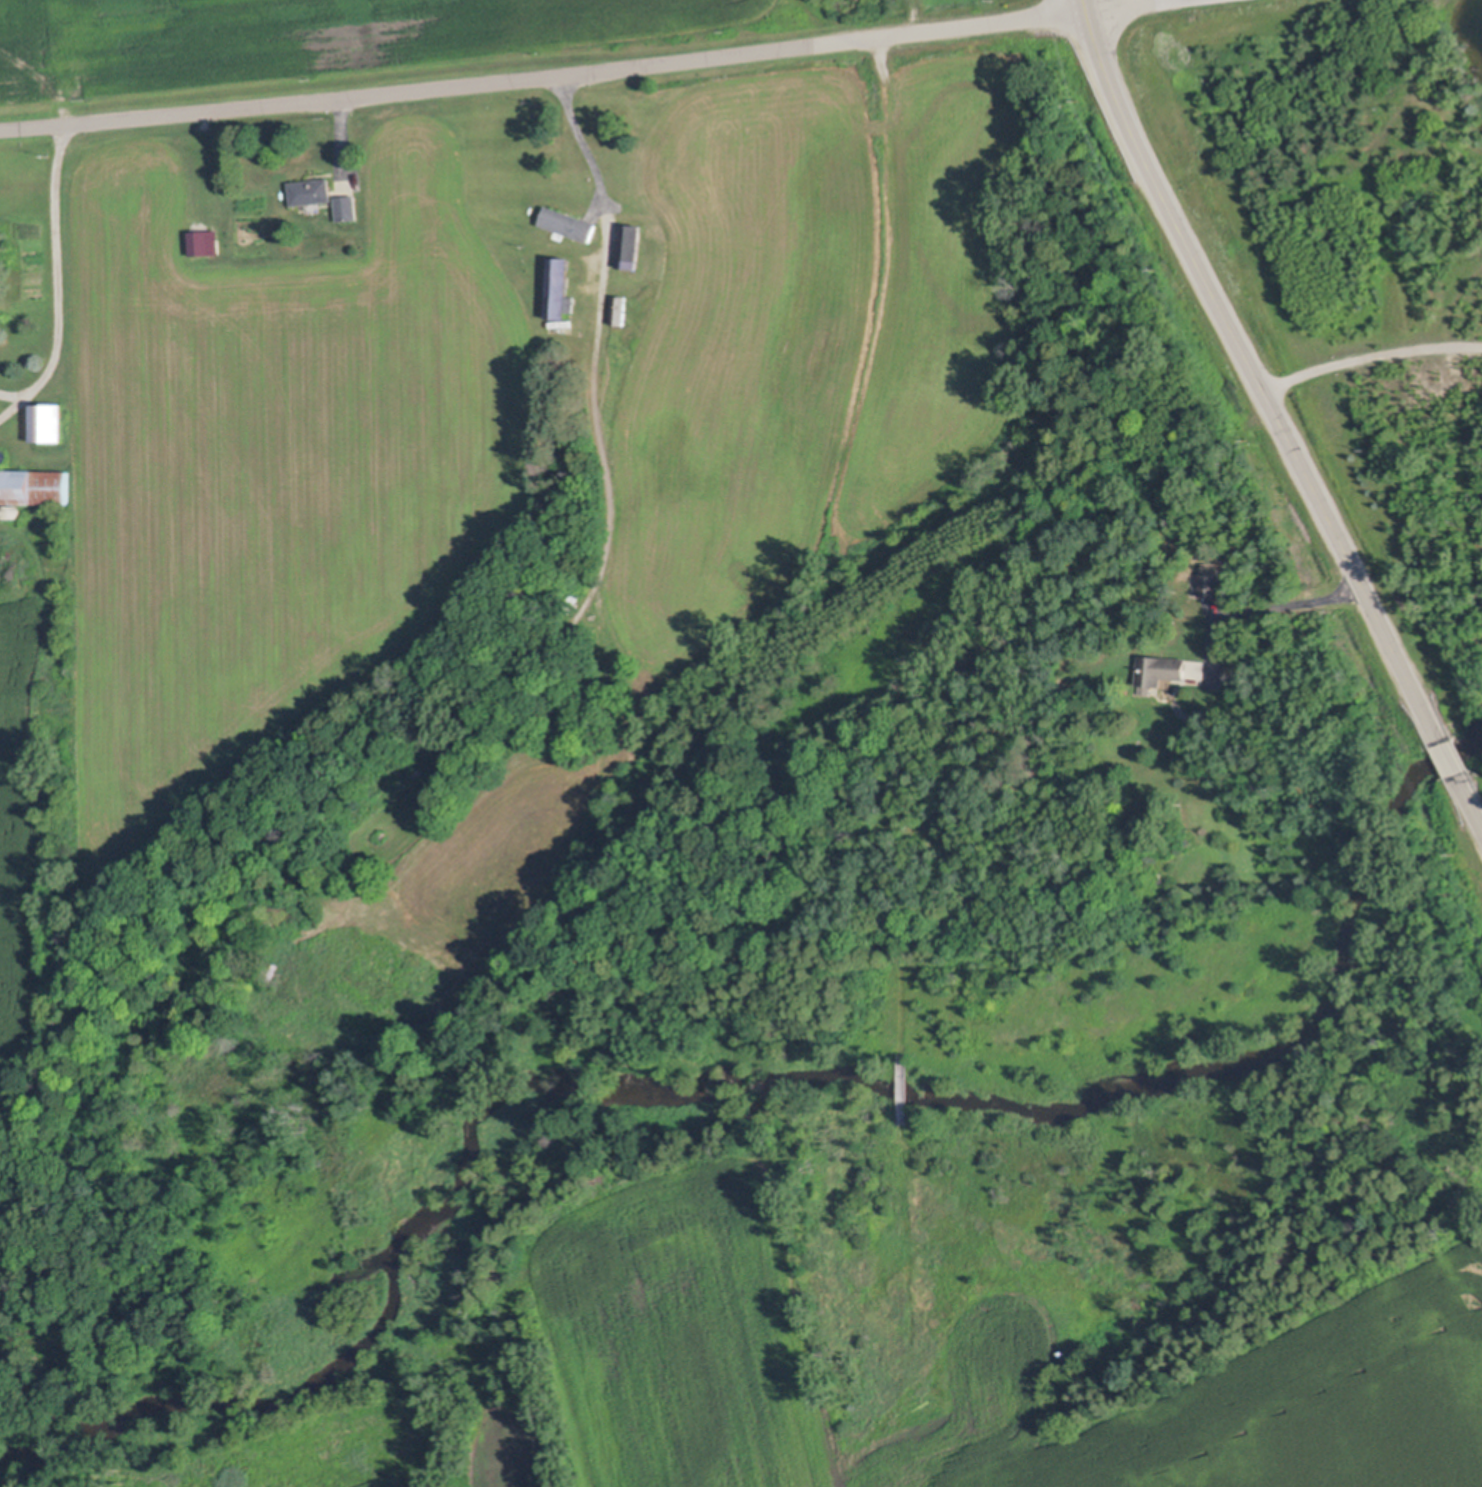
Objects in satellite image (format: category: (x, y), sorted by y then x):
road: (1110, 3)
crop: (327, 44)
road: (543, 78)
road: (584, 138)
building: (312, 189)
building: (348, 206)
building: (570, 222)
building: (214, 245)
building: (630, 246)
road: (59, 277)
building: (562, 288)
building: (622, 309)
road: (1369, 353)
road: (1246, 357)
building: (50, 422)
building: (3, 455)
building: (35, 485)
building: (1, 509)
building: (16, 512)
building: (1212, 584)
building: (571, 596)
road: (1268, 611)
building: (1160, 671)
road: (1449, 760)
road: (1477, 818)
river: (771, 1079)

